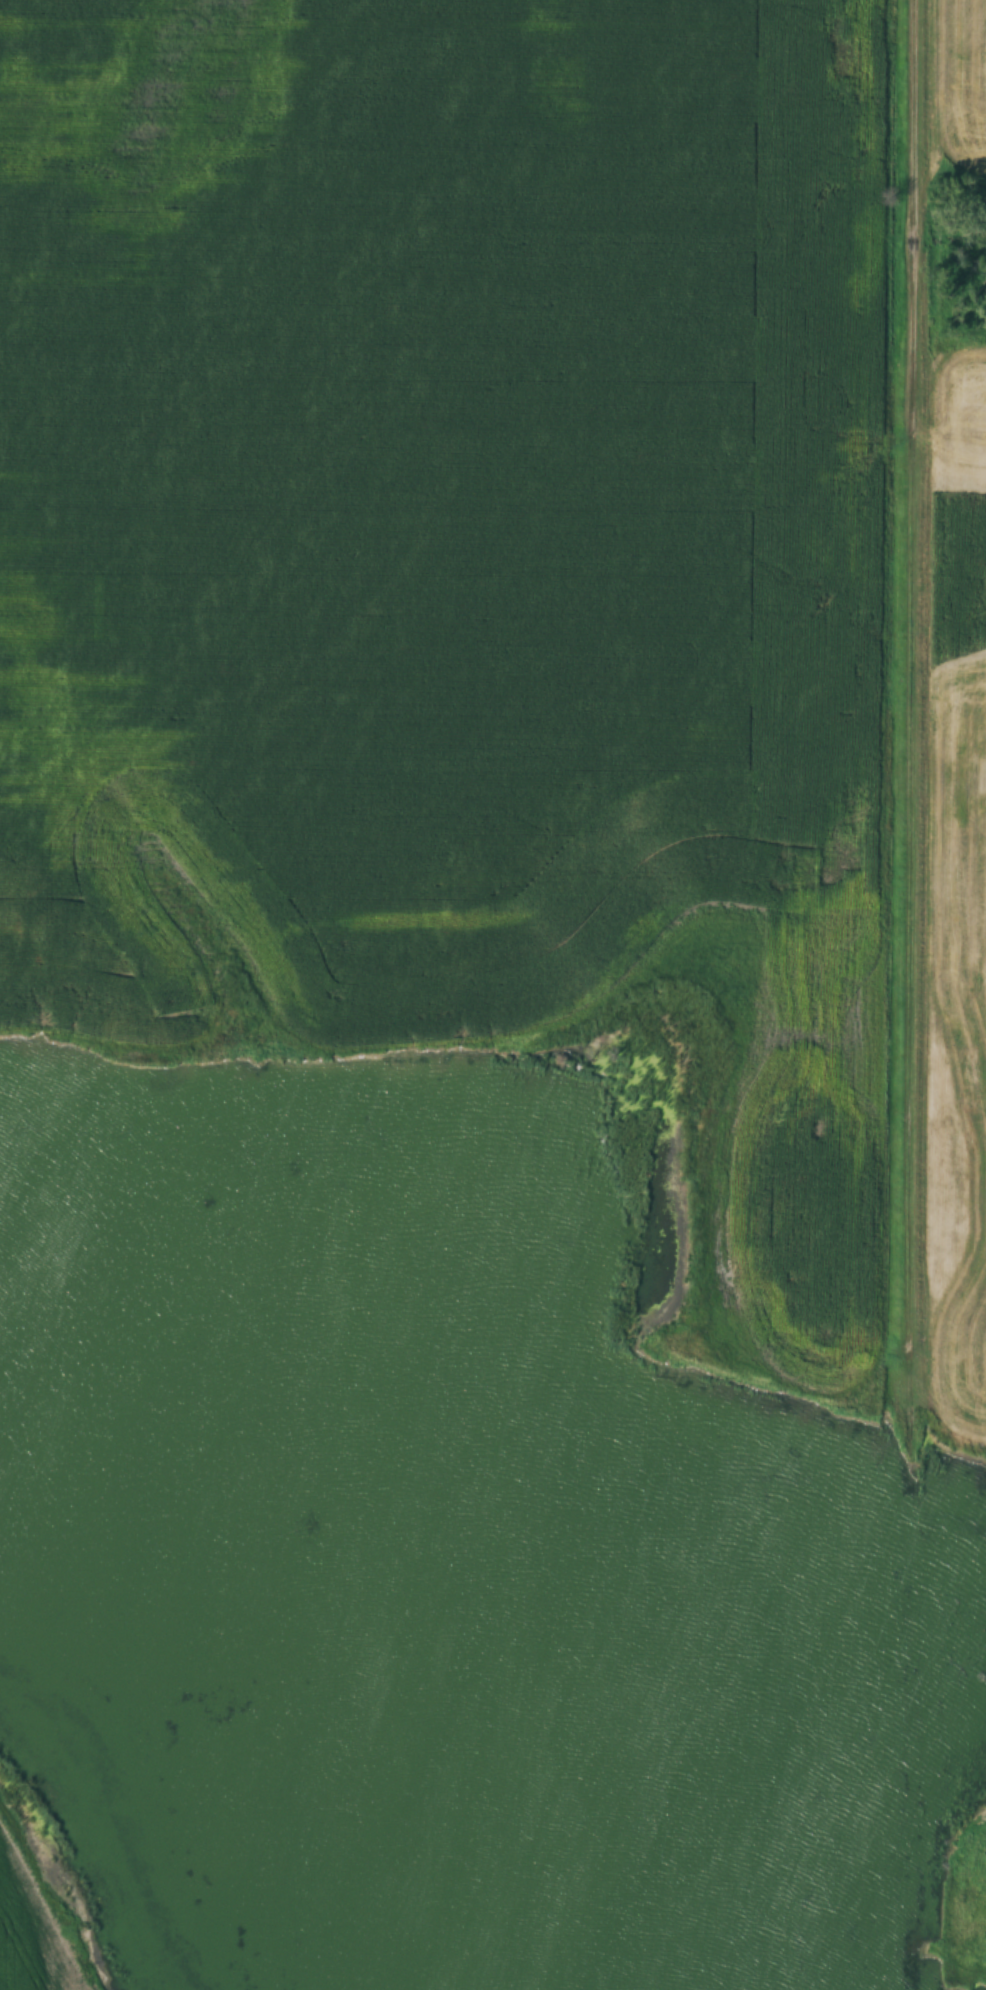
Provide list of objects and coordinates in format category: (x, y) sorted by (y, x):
road: (918, 726)

